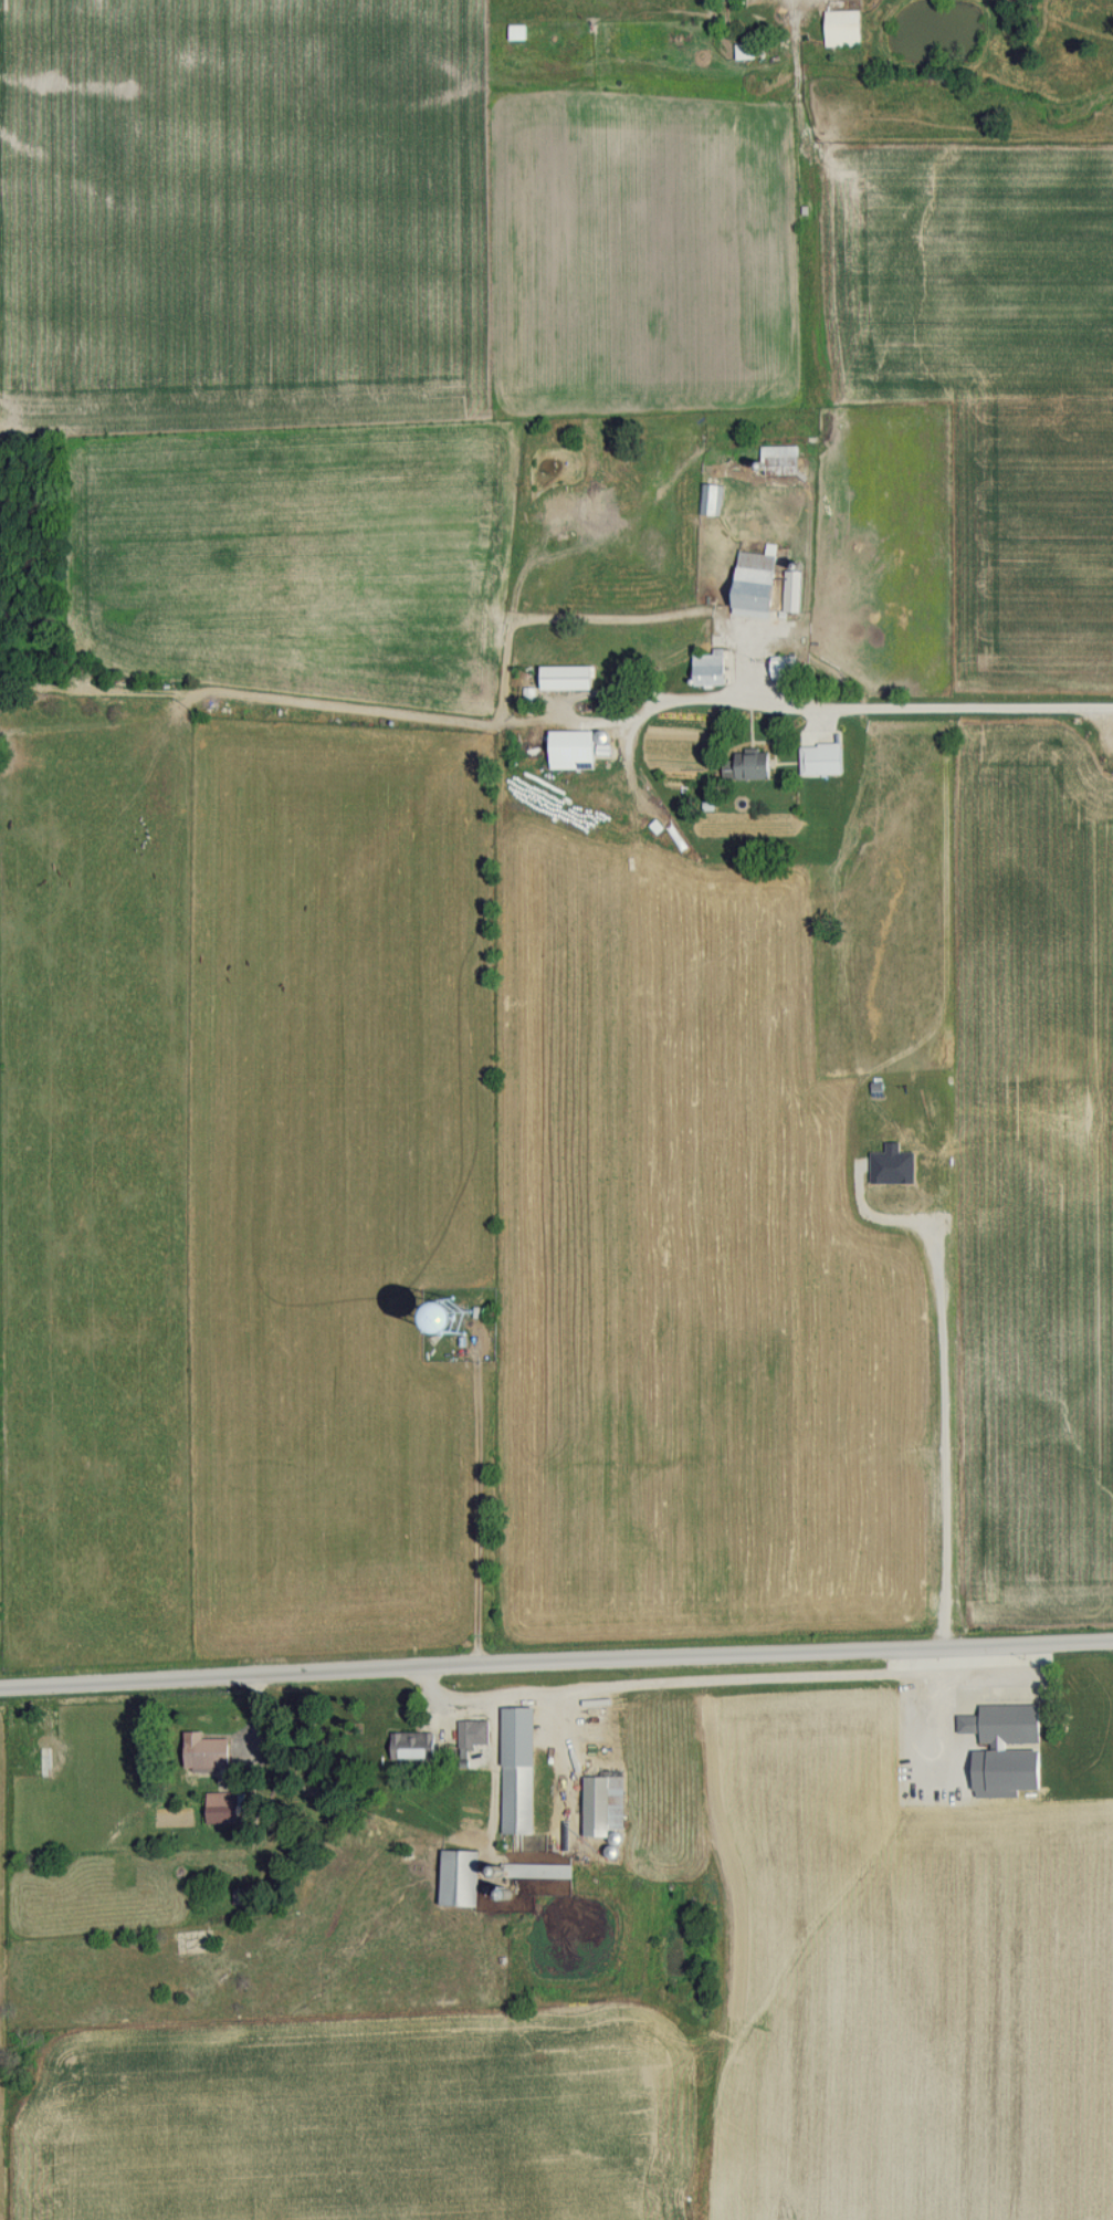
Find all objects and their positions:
road: (802, 1)
building: (843, 29)
building: (518, 31)
building: (746, 51)
building: (780, 460)
building: (708, 499)
building: (559, 511)
building: (594, 511)
building: (768, 582)
building: (787, 667)
building: (712, 669)
building: (568, 678)
road: (841, 702)
building: (825, 760)
building: (757, 764)
road: (556, 1665)
building: (475, 1731)
building: (418, 1745)
building: (209, 1750)
building: (1011, 1758)
building: (45, 1761)
building: (522, 1769)
building: (607, 1804)
building: (227, 1807)
building: (463, 1877)

